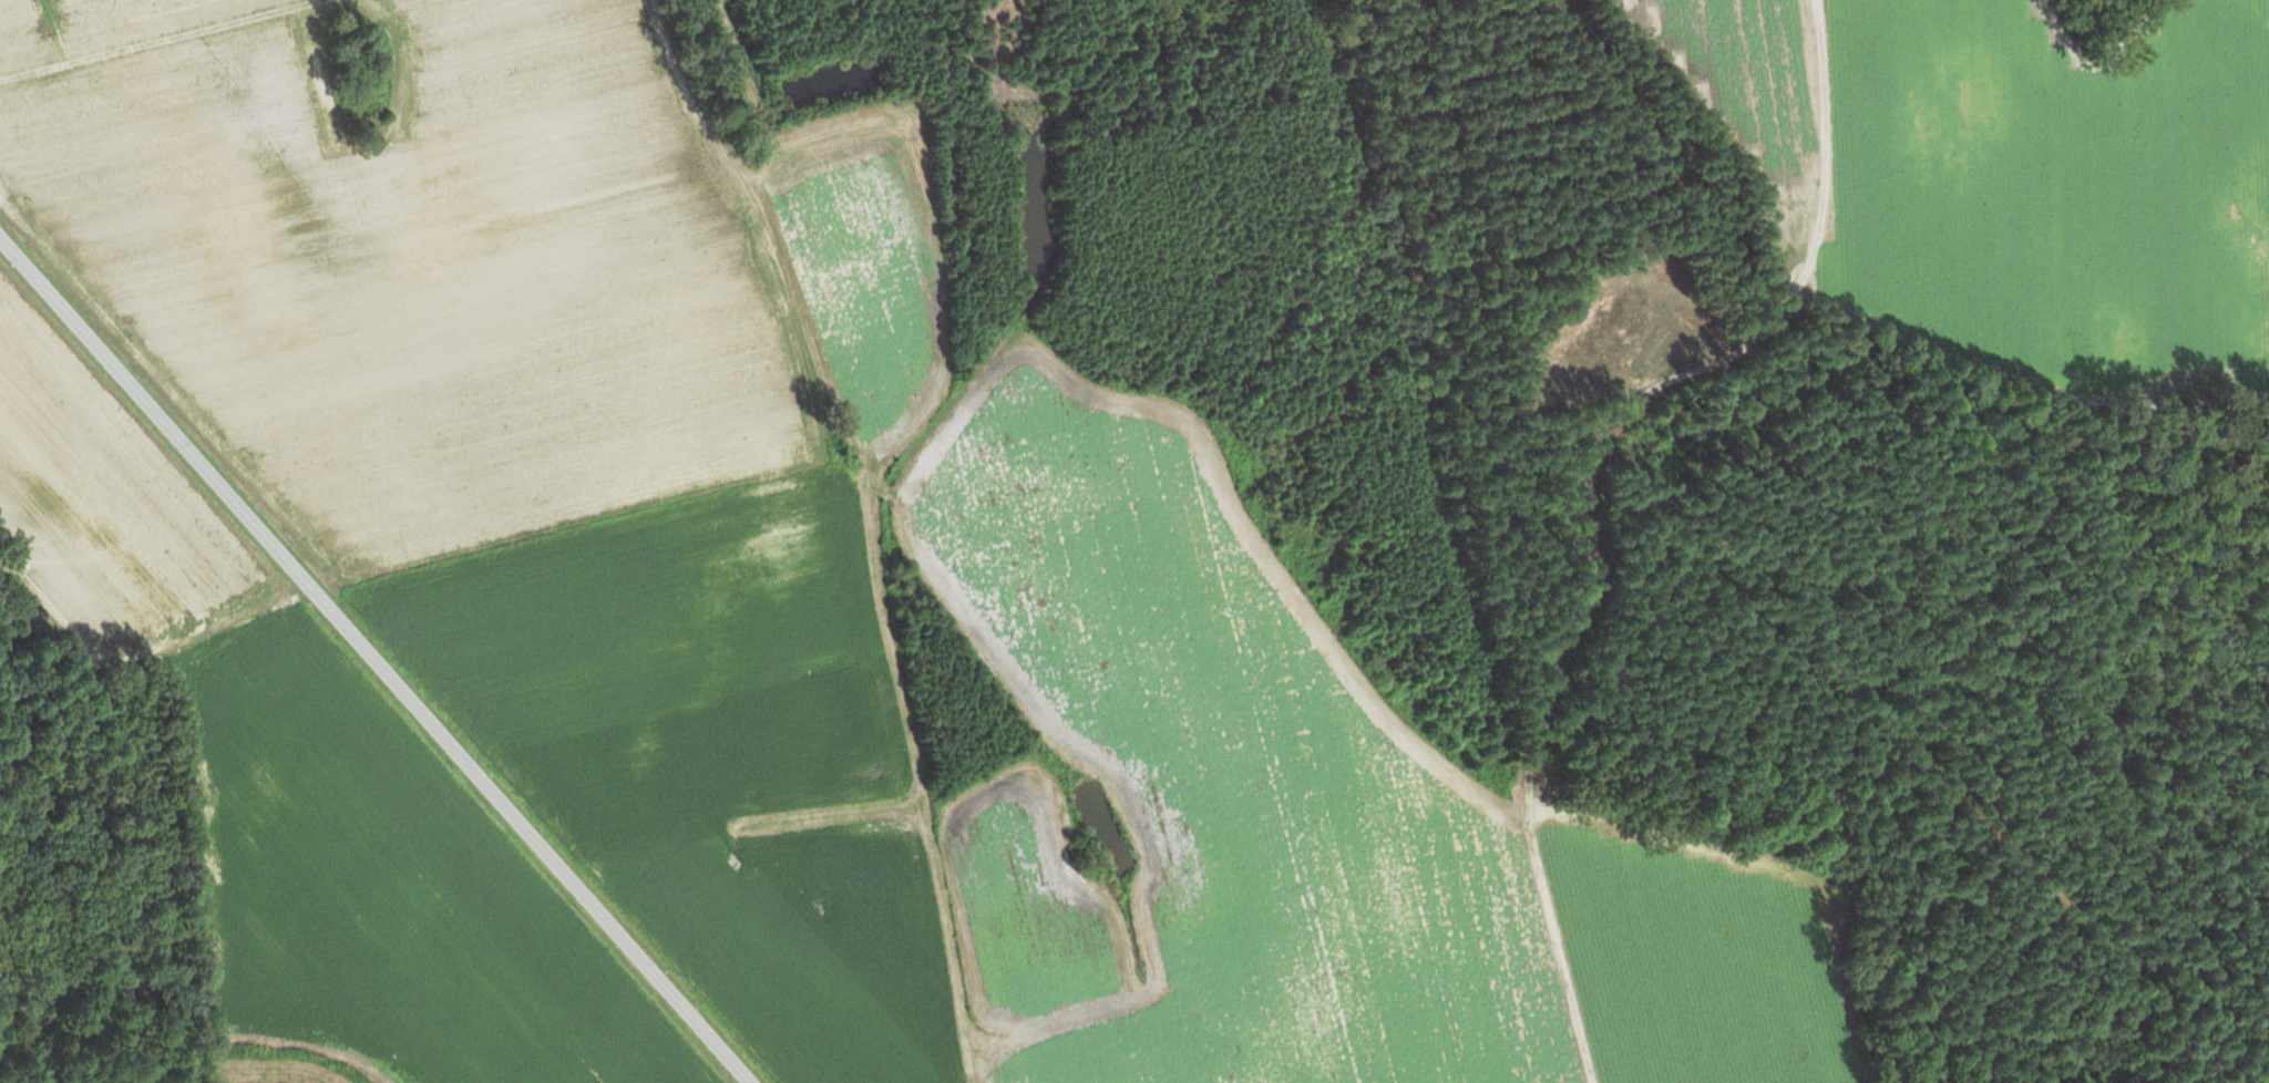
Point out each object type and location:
road: (372, 661)

